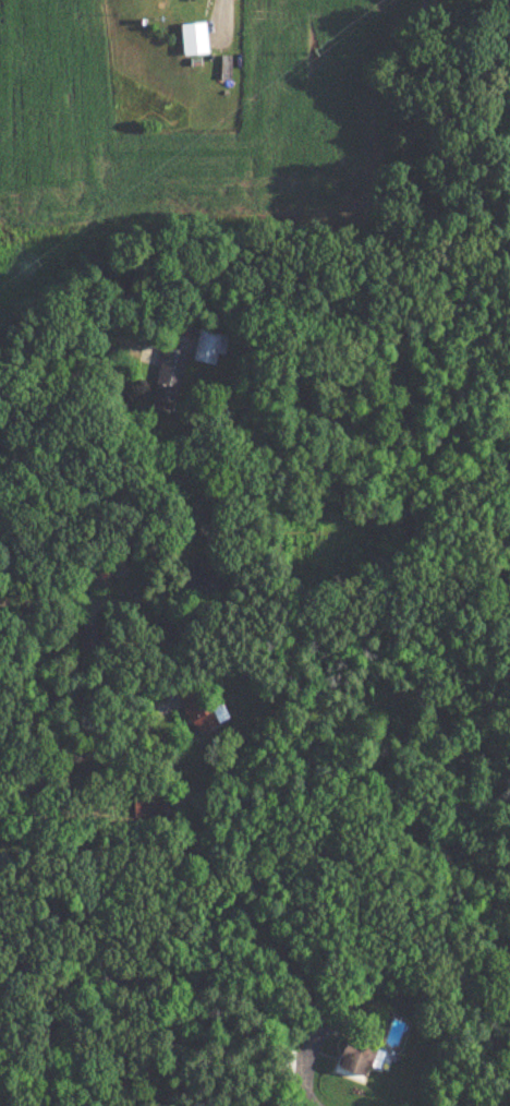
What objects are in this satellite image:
building: (193, 39)
building: (208, 347)
road: (65, 375)
building: (167, 381)
building: (439, 700)
building: (203, 713)
road: (74, 756)
road: (147, 975)
building: (363, 1049)
building: (282, 1063)

